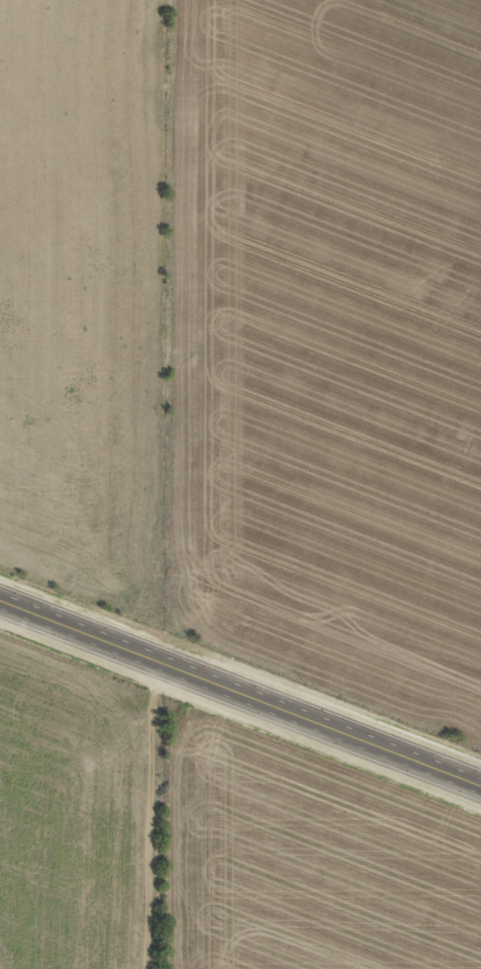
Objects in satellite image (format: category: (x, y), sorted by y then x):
road: (241, 689)

